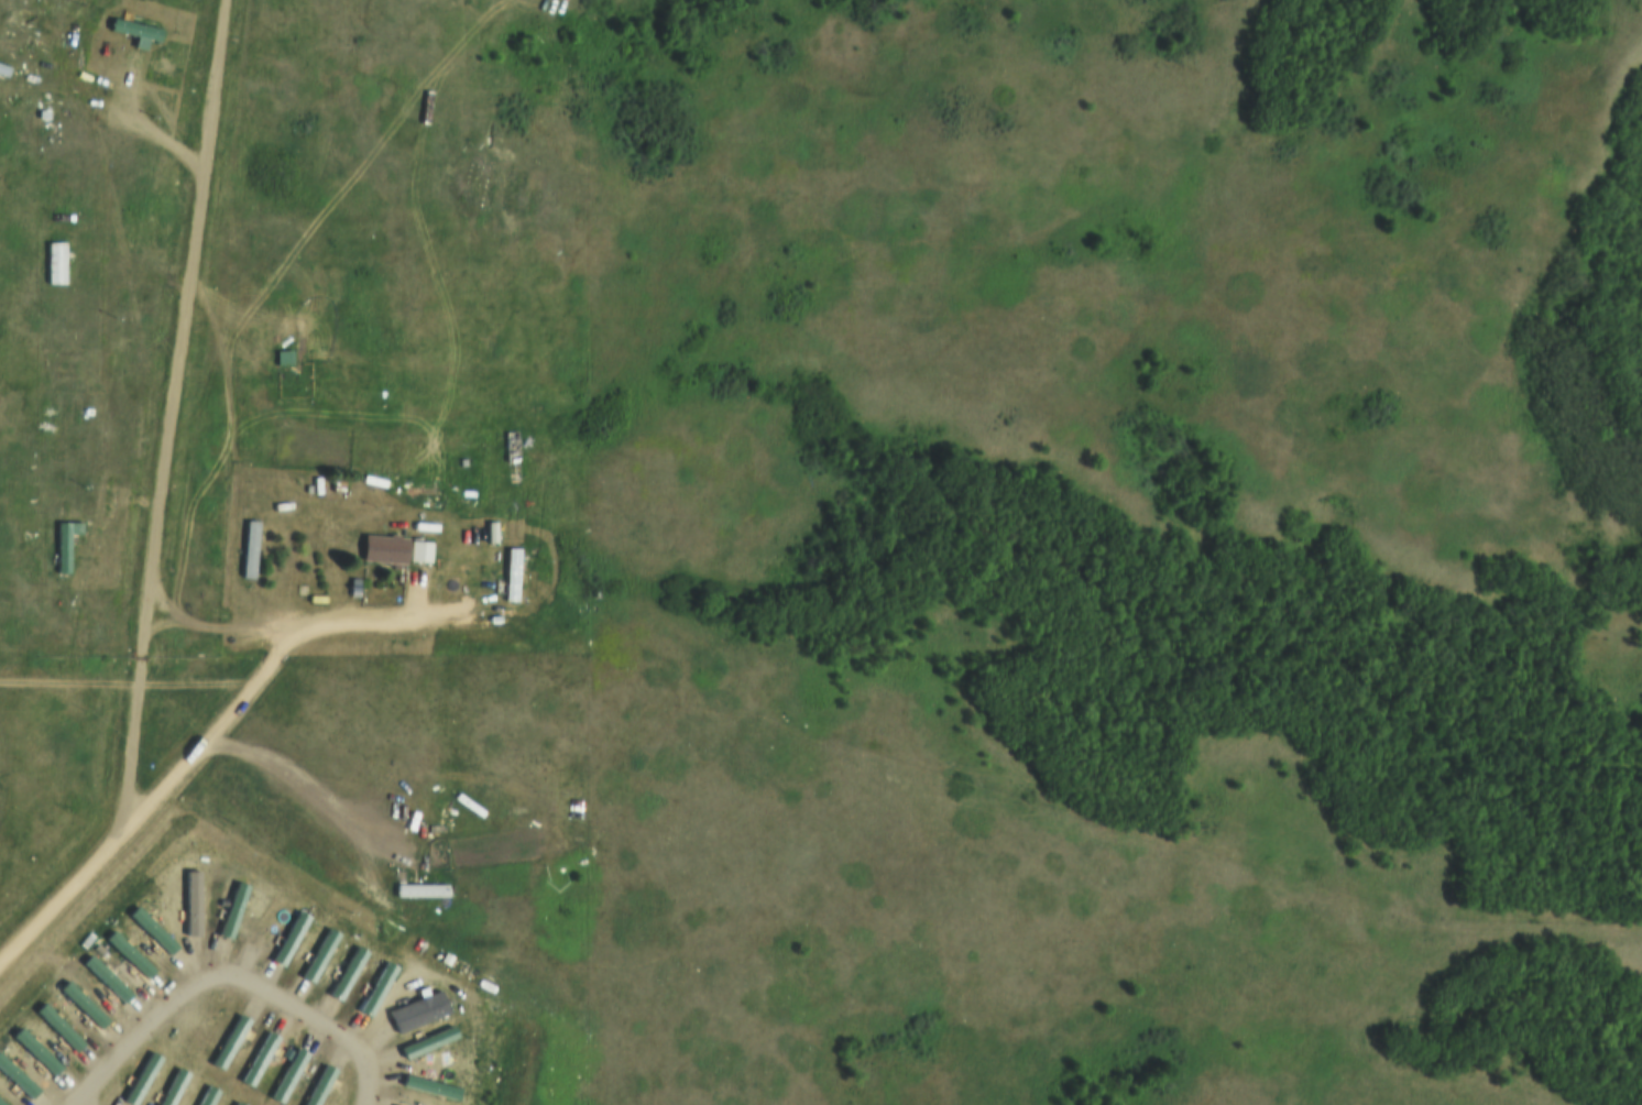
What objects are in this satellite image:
building: (132, 28)
building: (1, 69)
building: (53, 263)
building: (280, 357)
road: (165, 425)
building: (512, 448)
building: (371, 479)
building: (417, 490)
building: (423, 525)
building: (63, 541)
building: (382, 546)
building: (417, 550)
building: (508, 572)
road: (260, 681)
road: (132, 687)
building: (417, 890)
building: (190, 899)
building: (230, 908)
road: (57, 910)
building: (151, 930)
building: (286, 938)
building: (127, 954)
building: (316, 954)
building: (343, 972)
building: (103, 981)
building: (373, 989)
building: (81, 1005)
building: (414, 1011)
building: (57, 1027)
building: (425, 1042)
building: (226, 1043)
building: (33, 1052)
building: (254, 1060)
building: (284, 1076)
building: (139, 1079)
building: (15, 1080)
building: (316, 1085)
building: (171, 1087)
building: (427, 1087)
building: (205, 1096)
building: (1, 1103)
building: (236, 1103)
building: (395, 1104)

